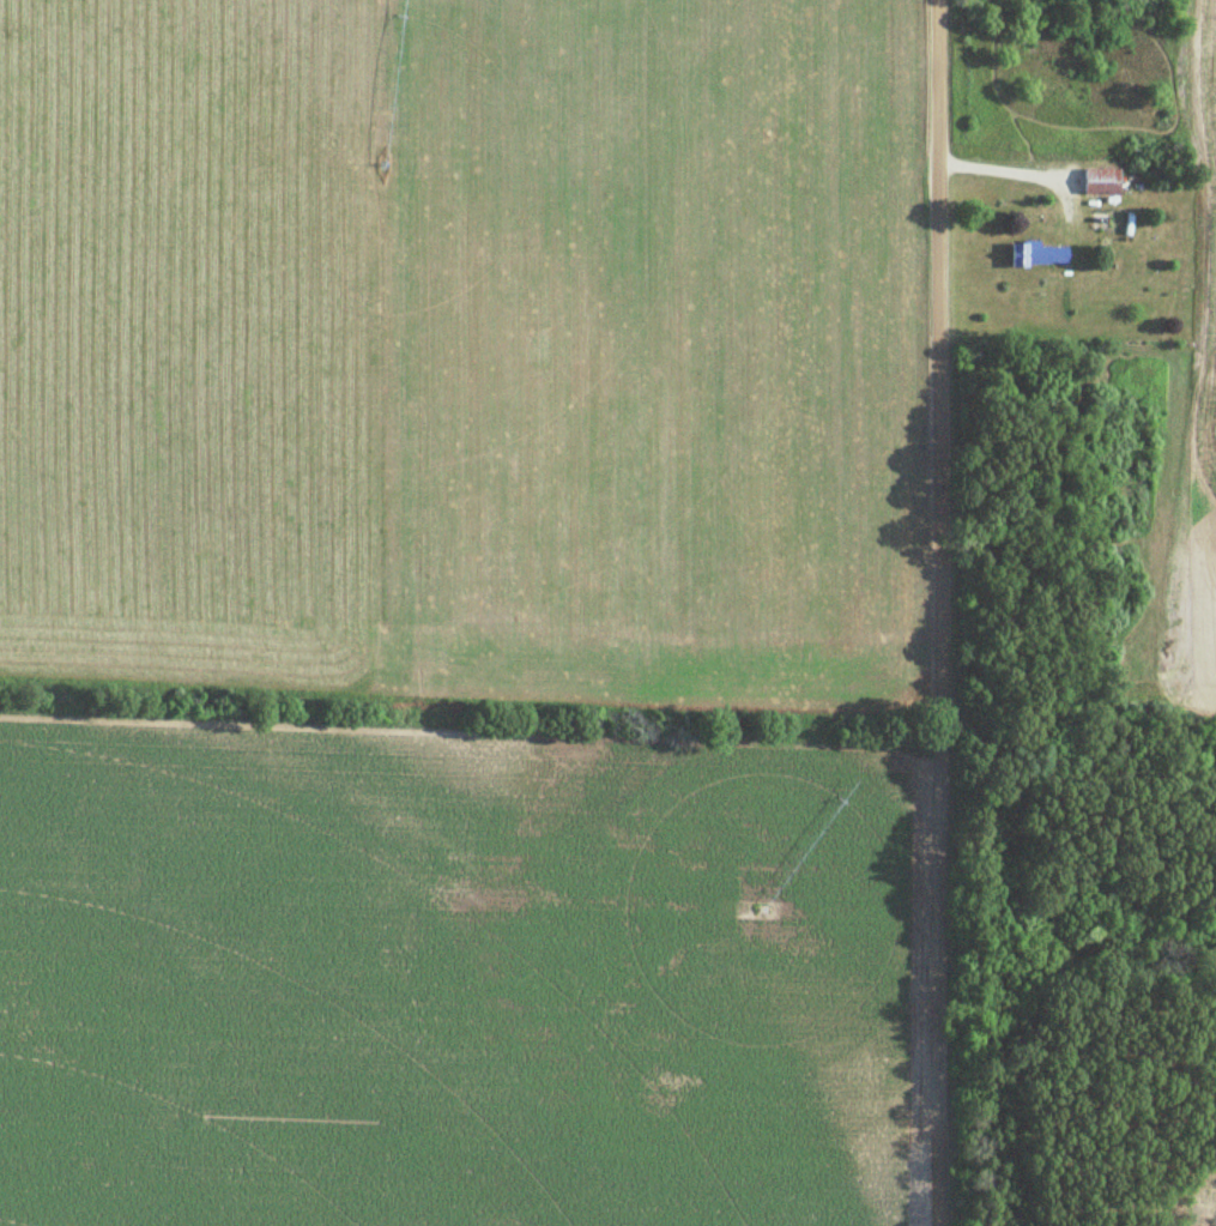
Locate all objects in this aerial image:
road: (1005, 171)
building: (1100, 181)
building: (1037, 254)
road: (942, 612)

